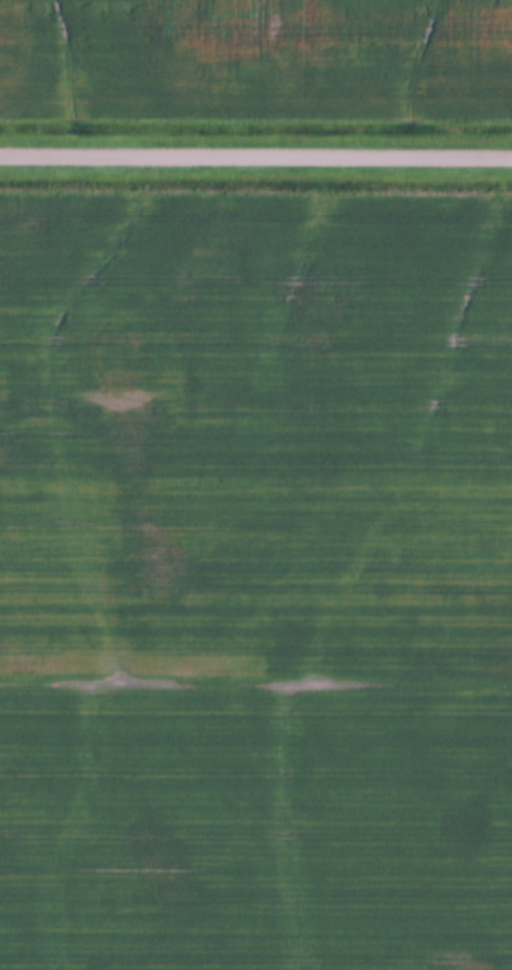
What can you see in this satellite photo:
crop: (257, 56)
crop: (255, 585)

